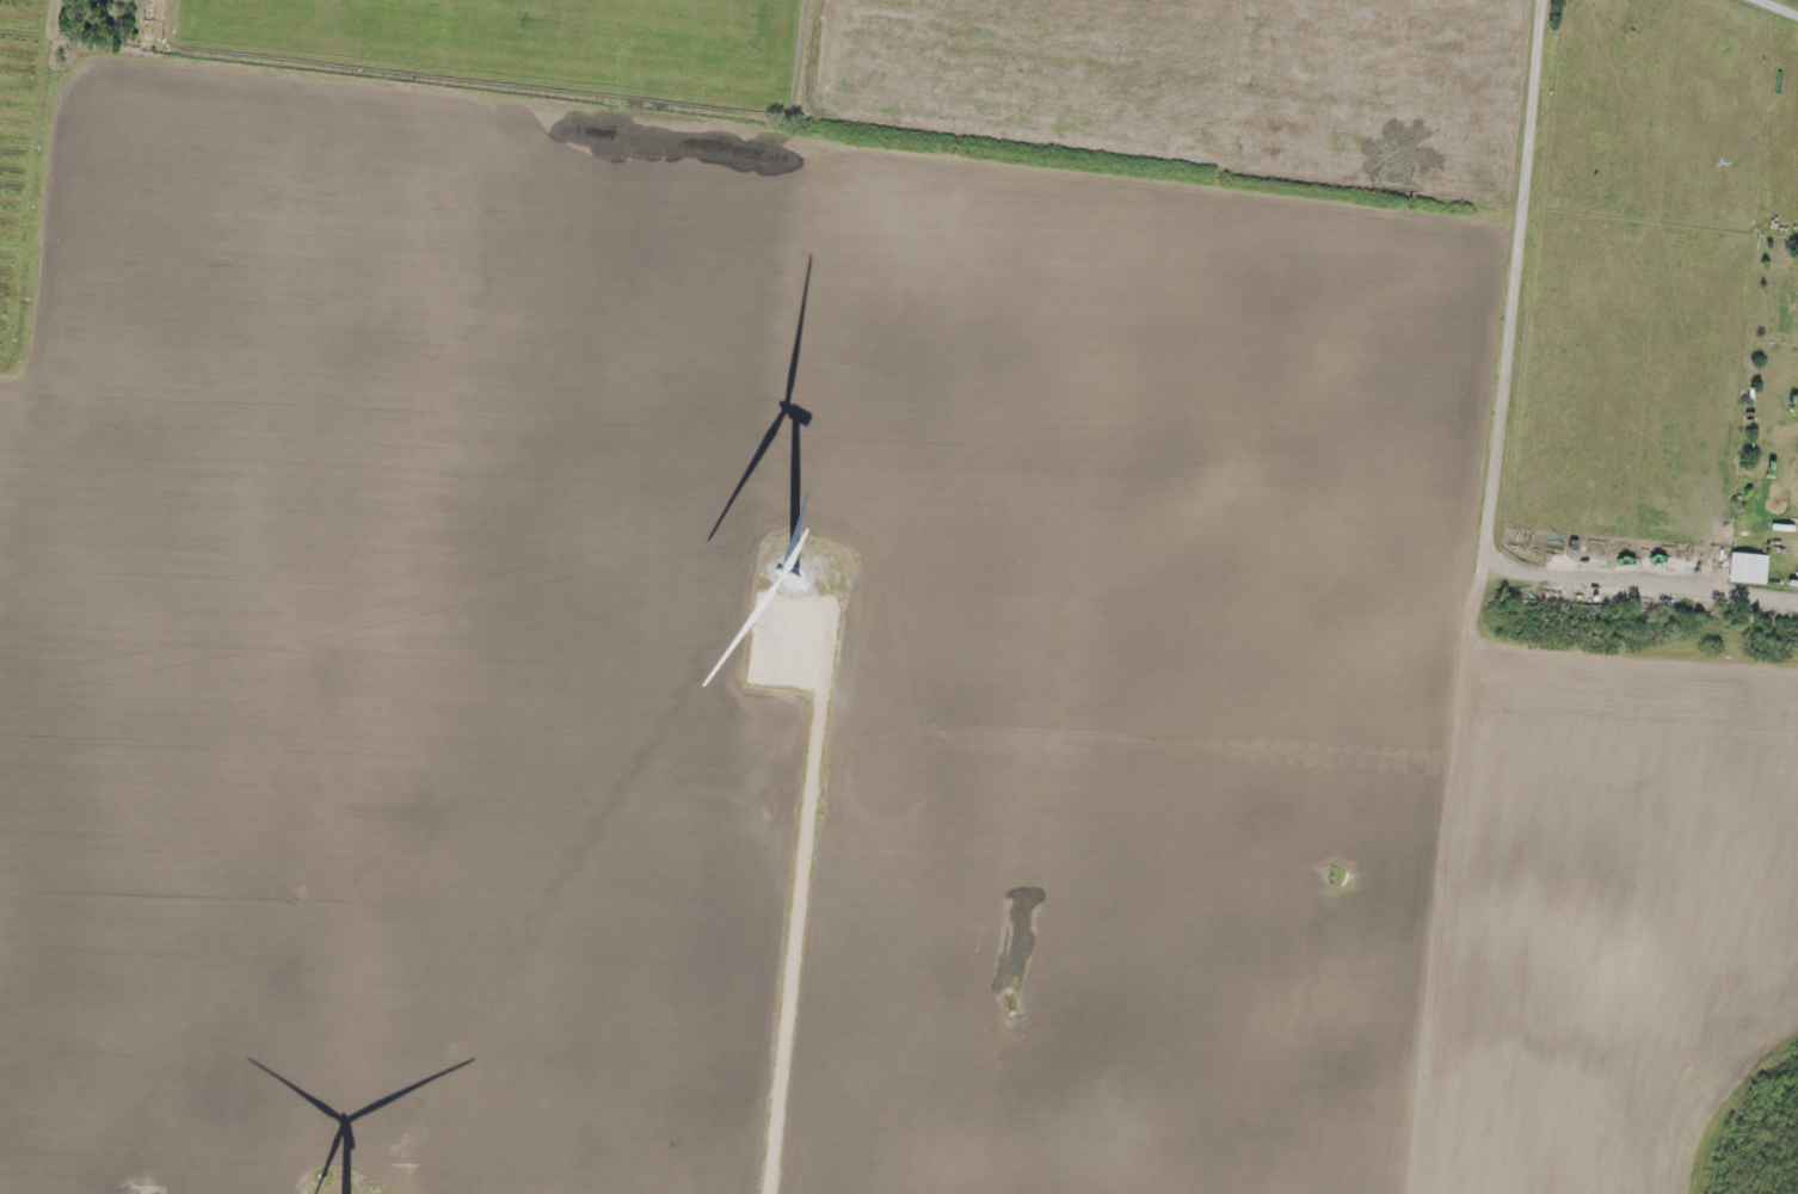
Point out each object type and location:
wind turbine: (796, 586)

